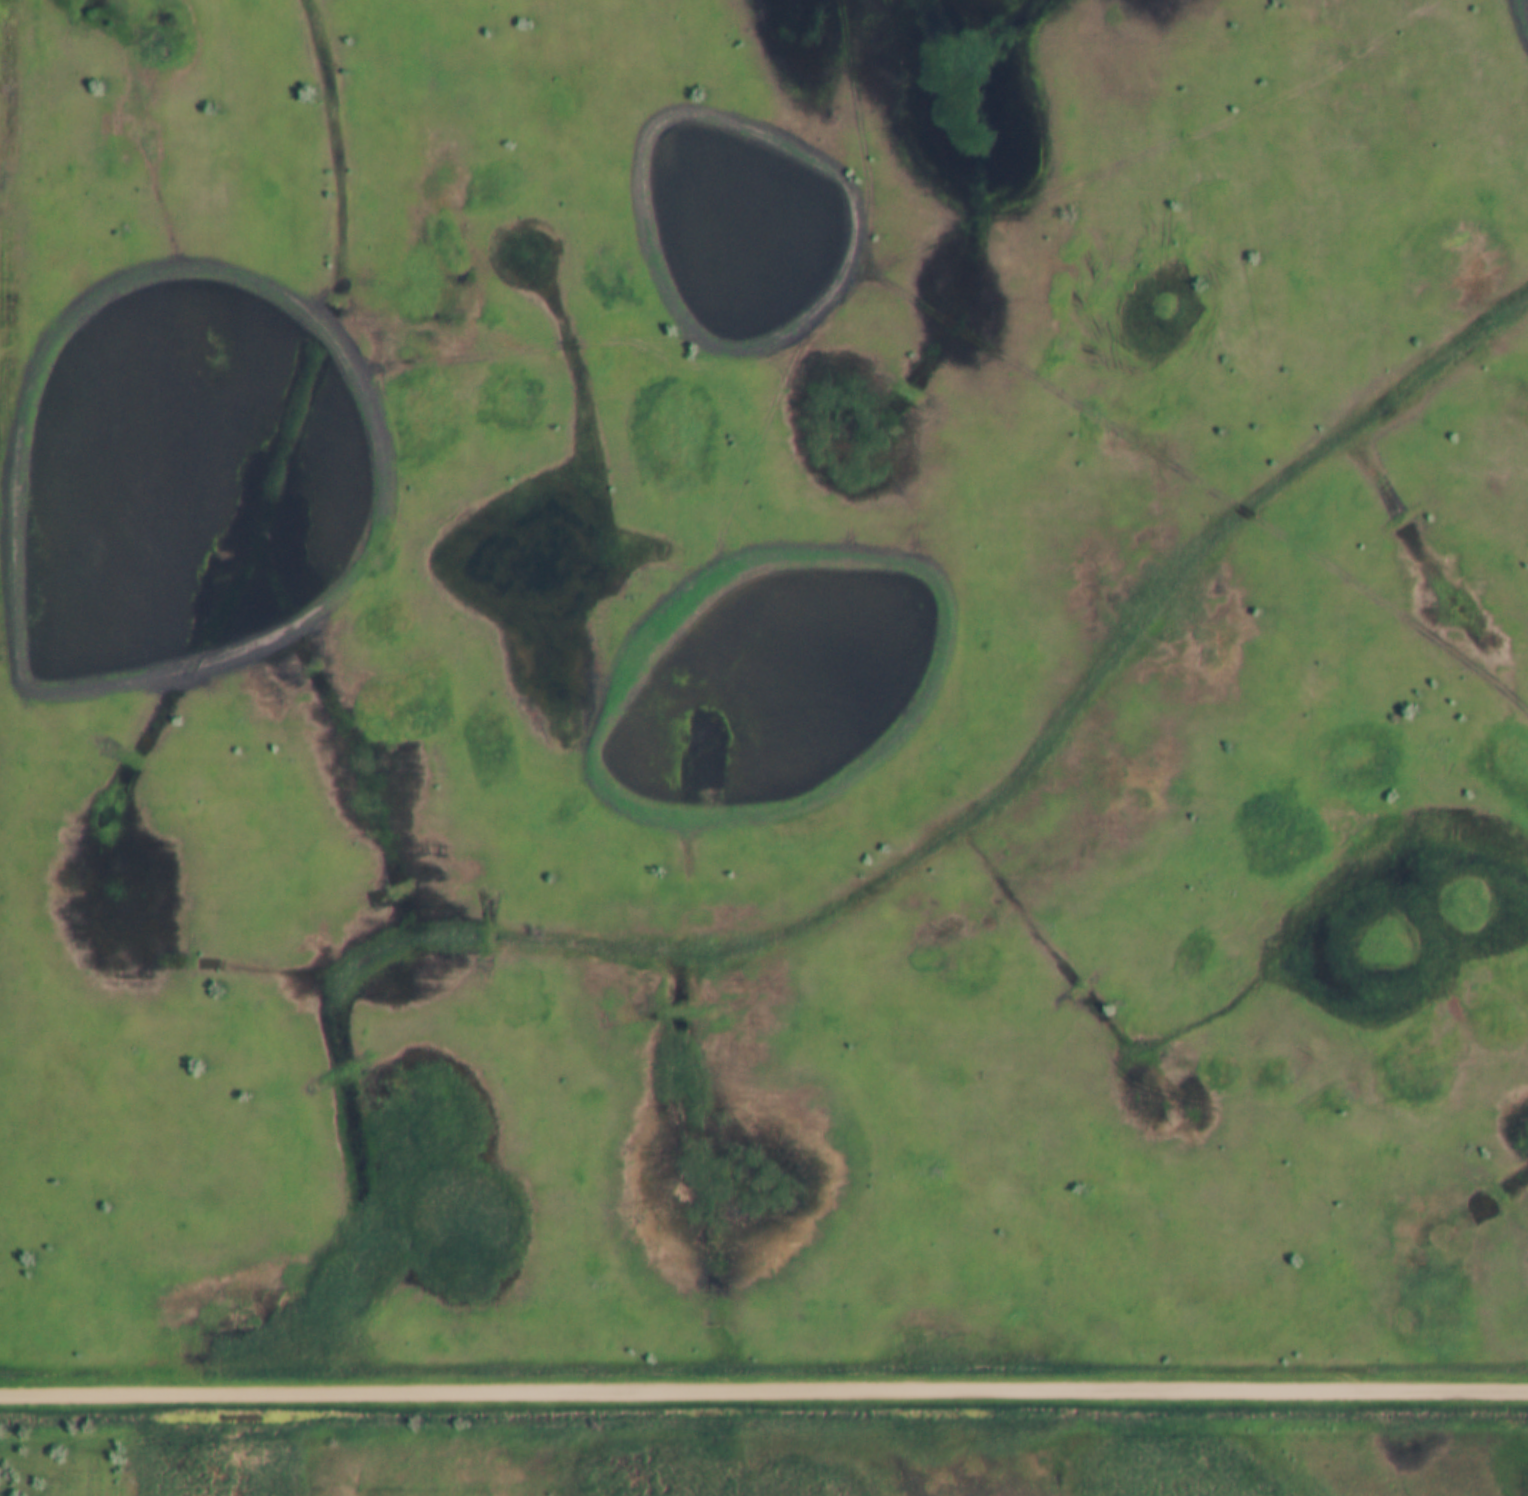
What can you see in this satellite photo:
road: (763, 1390)

